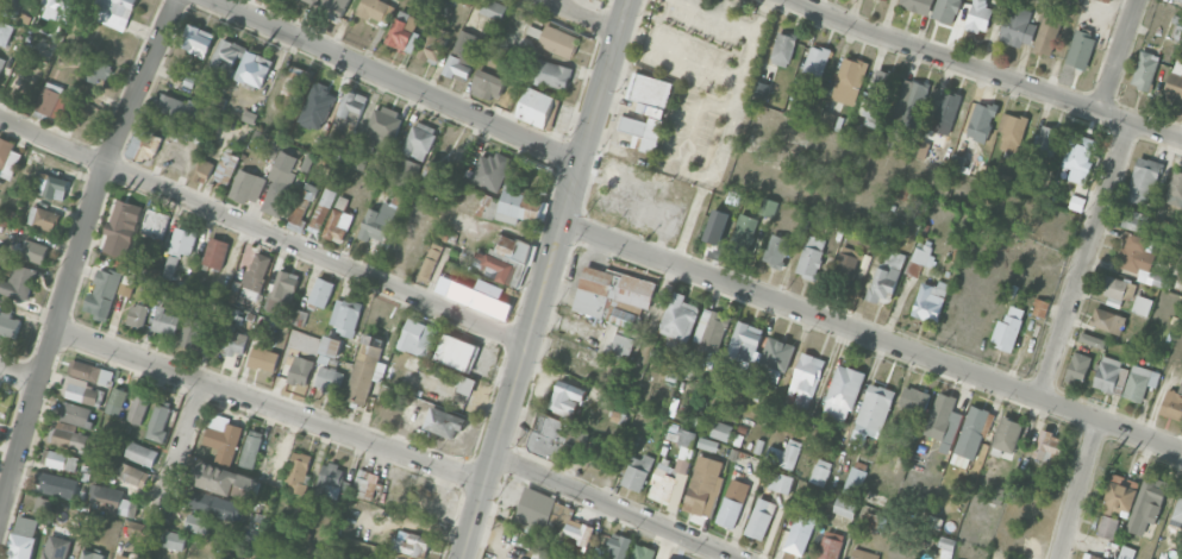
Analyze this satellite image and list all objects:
building: (1108, 0)
building: (1178, 0)
building: (312, 1)
building: (918, 5)
building: (332, 8)
building: (374, 8)
building: (60, 10)
building: (493, 10)
building: (946, 10)
building: (115, 12)
road: (719, 15)
road: (587, 17)
building: (978, 17)
building: (1018, 26)
building: (1176, 27)
building: (404, 31)
building: (5, 32)
building: (1047, 33)
building: (196, 40)
building: (557, 42)
building: (430, 48)
building: (782, 49)
building: (1081, 49)
road: (749, 52)
road: (680, 54)
building: (463, 55)
road: (1118, 55)
building: (226, 56)
building: (502, 57)
building: (82, 58)
building: (815, 61)
building: (1, 63)
building: (254, 70)
road: (986, 70)
building: (1145, 70)
building: (99, 71)
building: (550, 73)
building: (294, 81)
road: (396, 81)
building: (849, 81)
building: (1175, 82)
building: (488, 84)
building: (321, 86)
building: (761, 90)
building: (649, 94)
building: (875, 99)
building: (54, 100)
building: (912, 102)
building: (351, 106)
building: (176, 107)
building: (536, 107)
building: (945, 112)
building: (249, 117)
building: (1012, 131)
building: (642, 132)
building: (379, 133)
building: (974, 133)
building: (895, 137)
building: (1047, 139)
building: (420, 140)
building: (143, 143)
building: (343, 155)
building: (7, 157)
building: (1078, 158)
building: (307, 161)
road: (681, 168)
building: (225, 169)
building: (202, 170)
building: (404, 170)
building: (492, 170)
building: (1143, 181)
building: (280, 182)
building: (52, 186)
building: (248, 187)
building: (1175, 188)
building: (302, 202)
building: (512, 207)
building: (768, 207)
building: (321, 211)
building: (43, 218)
building: (380, 219)
building: (338, 220)
road: (689, 220)
building: (1136, 220)
building: (155, 224)
building: (121, 227)
building: (1158, 228)
road: (263, 232)
building: (743, 233)
building: (446, 234)
building: (1015, 240)
building: (183, 241)
building: (776, 250)
building: (31, 251)
building: (215, 252)
road: (77, 253)
building: (811, 257)
building: (919, 258)
building: (504, 259)
road: (1084, 259)
building: (431, 260)
building: (1140, 260)
building: (846, 263)
building: (170, 266)
building: (257, 271)
building: (886, 277)
road: (545, 278)
building: (18, 282)
building: (1119, 288)
building: (611, 290)
building: (283, 291)
building: (321, 291)
building: (104, 294)
building: (232, 294)
building: (930, 301)
building: (1113, 302)
building: (1142, 304)
building: (1040, 307)
building: (137, 315)
building: (345, 315)
building: (300, 318)
building: (680, 318)
building: (625, 319)
building: (1107, 320)
building: (165, 321)
building: (8, 324)
building: (1008, 328)
building: (192, 331)
building: (711, 332)
road: (871, 337)
building: (417, 338)
building: (233, 340)
building: (1092, 340)
building: (617, 341)
building: (744, 347)
building: (329, 348)
building: (457, 351)
building: (263, 358)
building: (776, 359)
building: (1078, 368)
building: (365, 369)
building: (300, 370)
building: (90, 371)
road: (19, 373)
building: (1111, 376)
building: (329, 379)
building: (806, 379)
building: (1140, 382)
building: (467, 384)
building: (81, 390)
building: (843, 391)
building: (565, 397)
building: (914, 398)
building: (115, 401)
building: (1172, 403)
building: (138, 407)
road: (269, 407)
building: (874, 410)
building: (75, 414)
building: (939, 415)
building: (158, 422)
building: (445, 426)
building: (721, 431)
building: (973, 432)
building: (1007, 434)
building: (548, 435)
building: (69, 436)
building: (223, 438)
building: (708, 444)
road: (181, 446)
building: (1047, 446)
building: (251, 448)
building: (140, 453)
building: (783, 454)
building: (58, 459)
building: (298, 471)
building: (637, 472)
building: (674, 472)
building: (820, 472)
building: (133, 475)
building: (224, 481)
building: (330, 481)
building: (853, 481)
building: (52, 482)
building: (365, 484)
building: (782, 484)
building: (703, 486)
road: (1077, 490)
building: (423, 495)
building: (996, 495)
building: (1120, 495)
building: (112, 500)
building: (732, 503)
building: (1147, 503)
road: (618, 504)
building: (227, 508)
building: (845, 508)
building: (1178, 510)
building: (551, 515)
building: (759, 519)
building: (876, 522)
building: (198, 523)
building: (1107, 527)
building: (139, 529)
building: (801, 530)
building: (23, 538)
building: (173, 540)
building: (411, 542)
building: (830, 545)
building: (56, 547)
building: (613, 548)
building: (946, 548)
building: (643, 552)
building: (1126, 552)
building: (90, 554)
road: (720, 554)
building: (863, 554)
building: (125, 555)
building: (1092, 557)
building: (534, 558)

